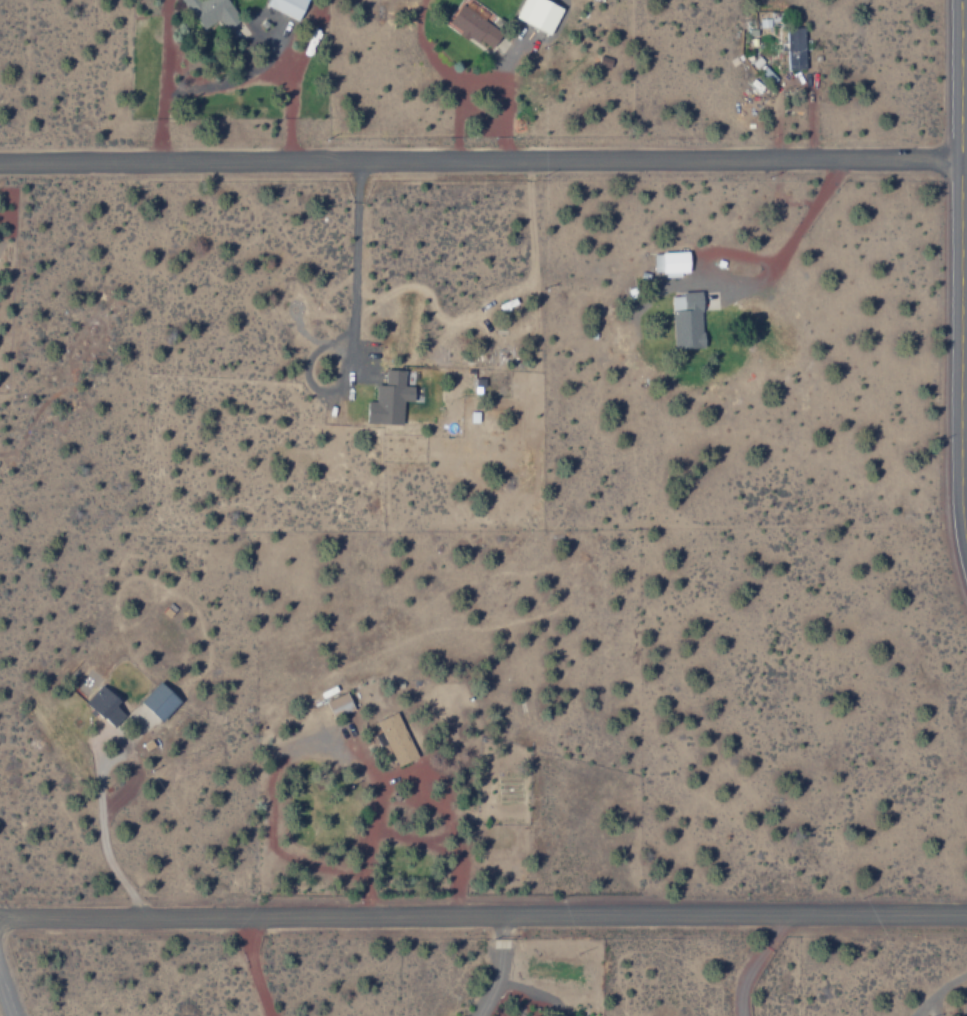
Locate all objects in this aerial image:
building: (288, 7)
building: (212, 13)
building: (539, 15)
building: (777, 20)
building: (474, 28)
building: (796, 49)
road: (476, 159)
building: (672, 263)
road: (952, 284)
building: (687, 321)
building: (389, 400)
building: (159, 702)
building: (338, 706)
building: (105, 707)
building: (397, 740)
road: (483, 917)
road: (9, 986)

